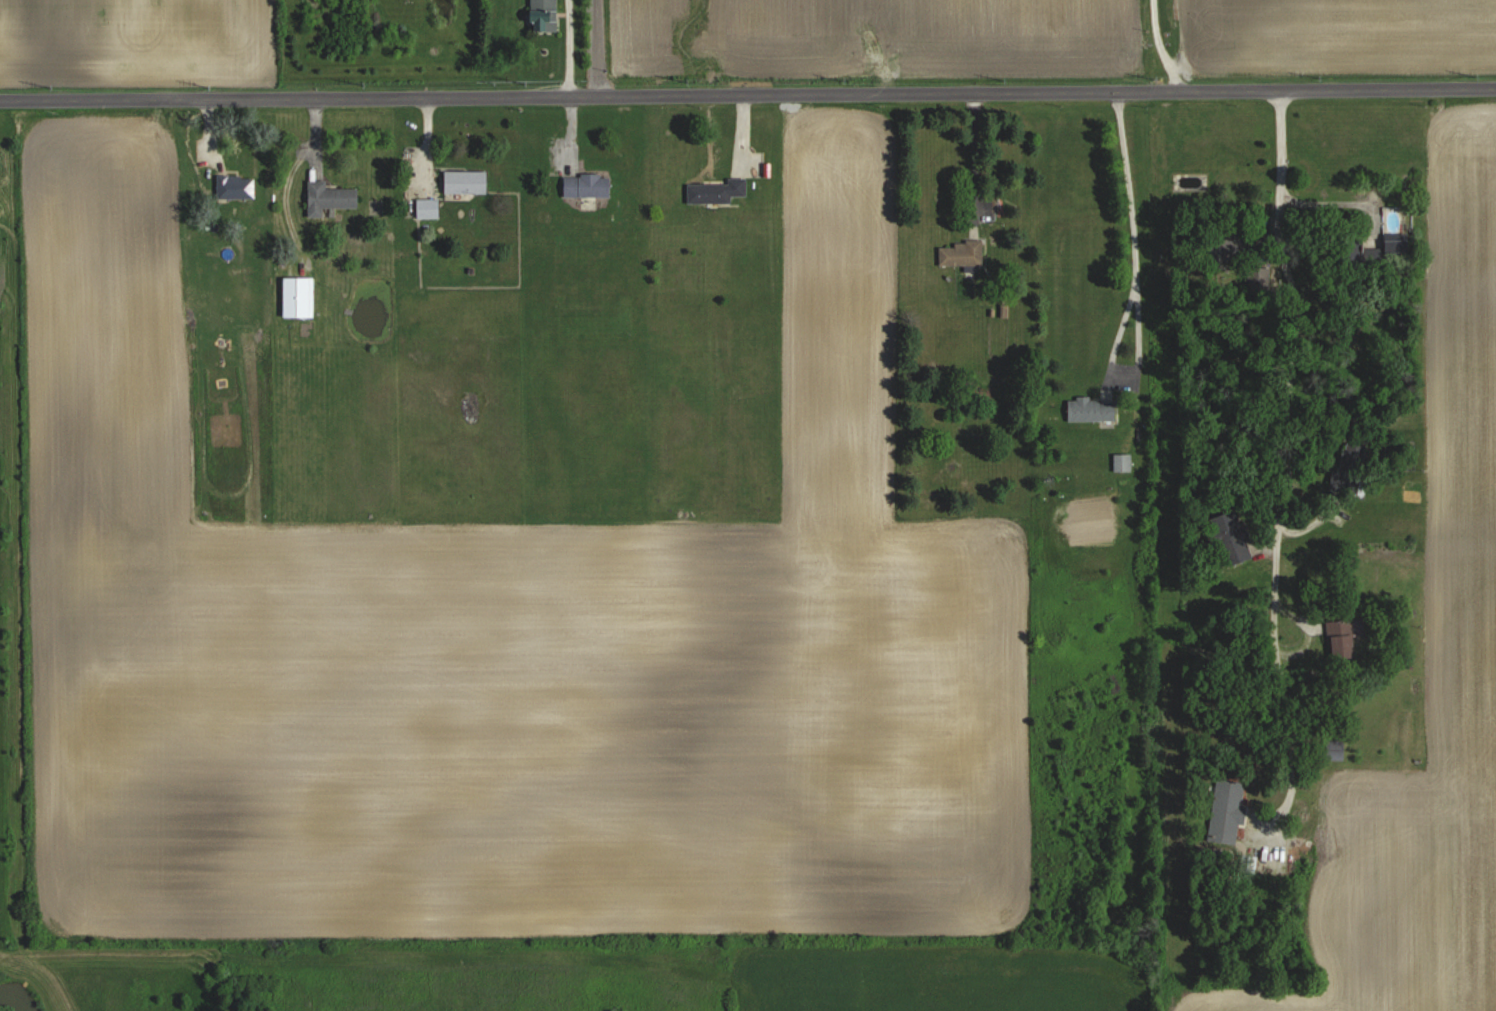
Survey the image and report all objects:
building: (543, 15)
road: (1166, 46)
road: (598, 47)
road: (748, 92)
building: (464, 180)
building: (1188, 181)
building: (586, 184)
building: (235, 186)
building: (716, 189)
building: (328, 196)
road: (1136, 228)
building: (1394, 243)
building: (962, 252)
building: (297, 296)
building: (1091, 408)
road: (1288, 421)
building: (1122, 462)
building: (1232, 537)
building: (1343, 636)
road: (1286, 798)
building: (1229, 800)

